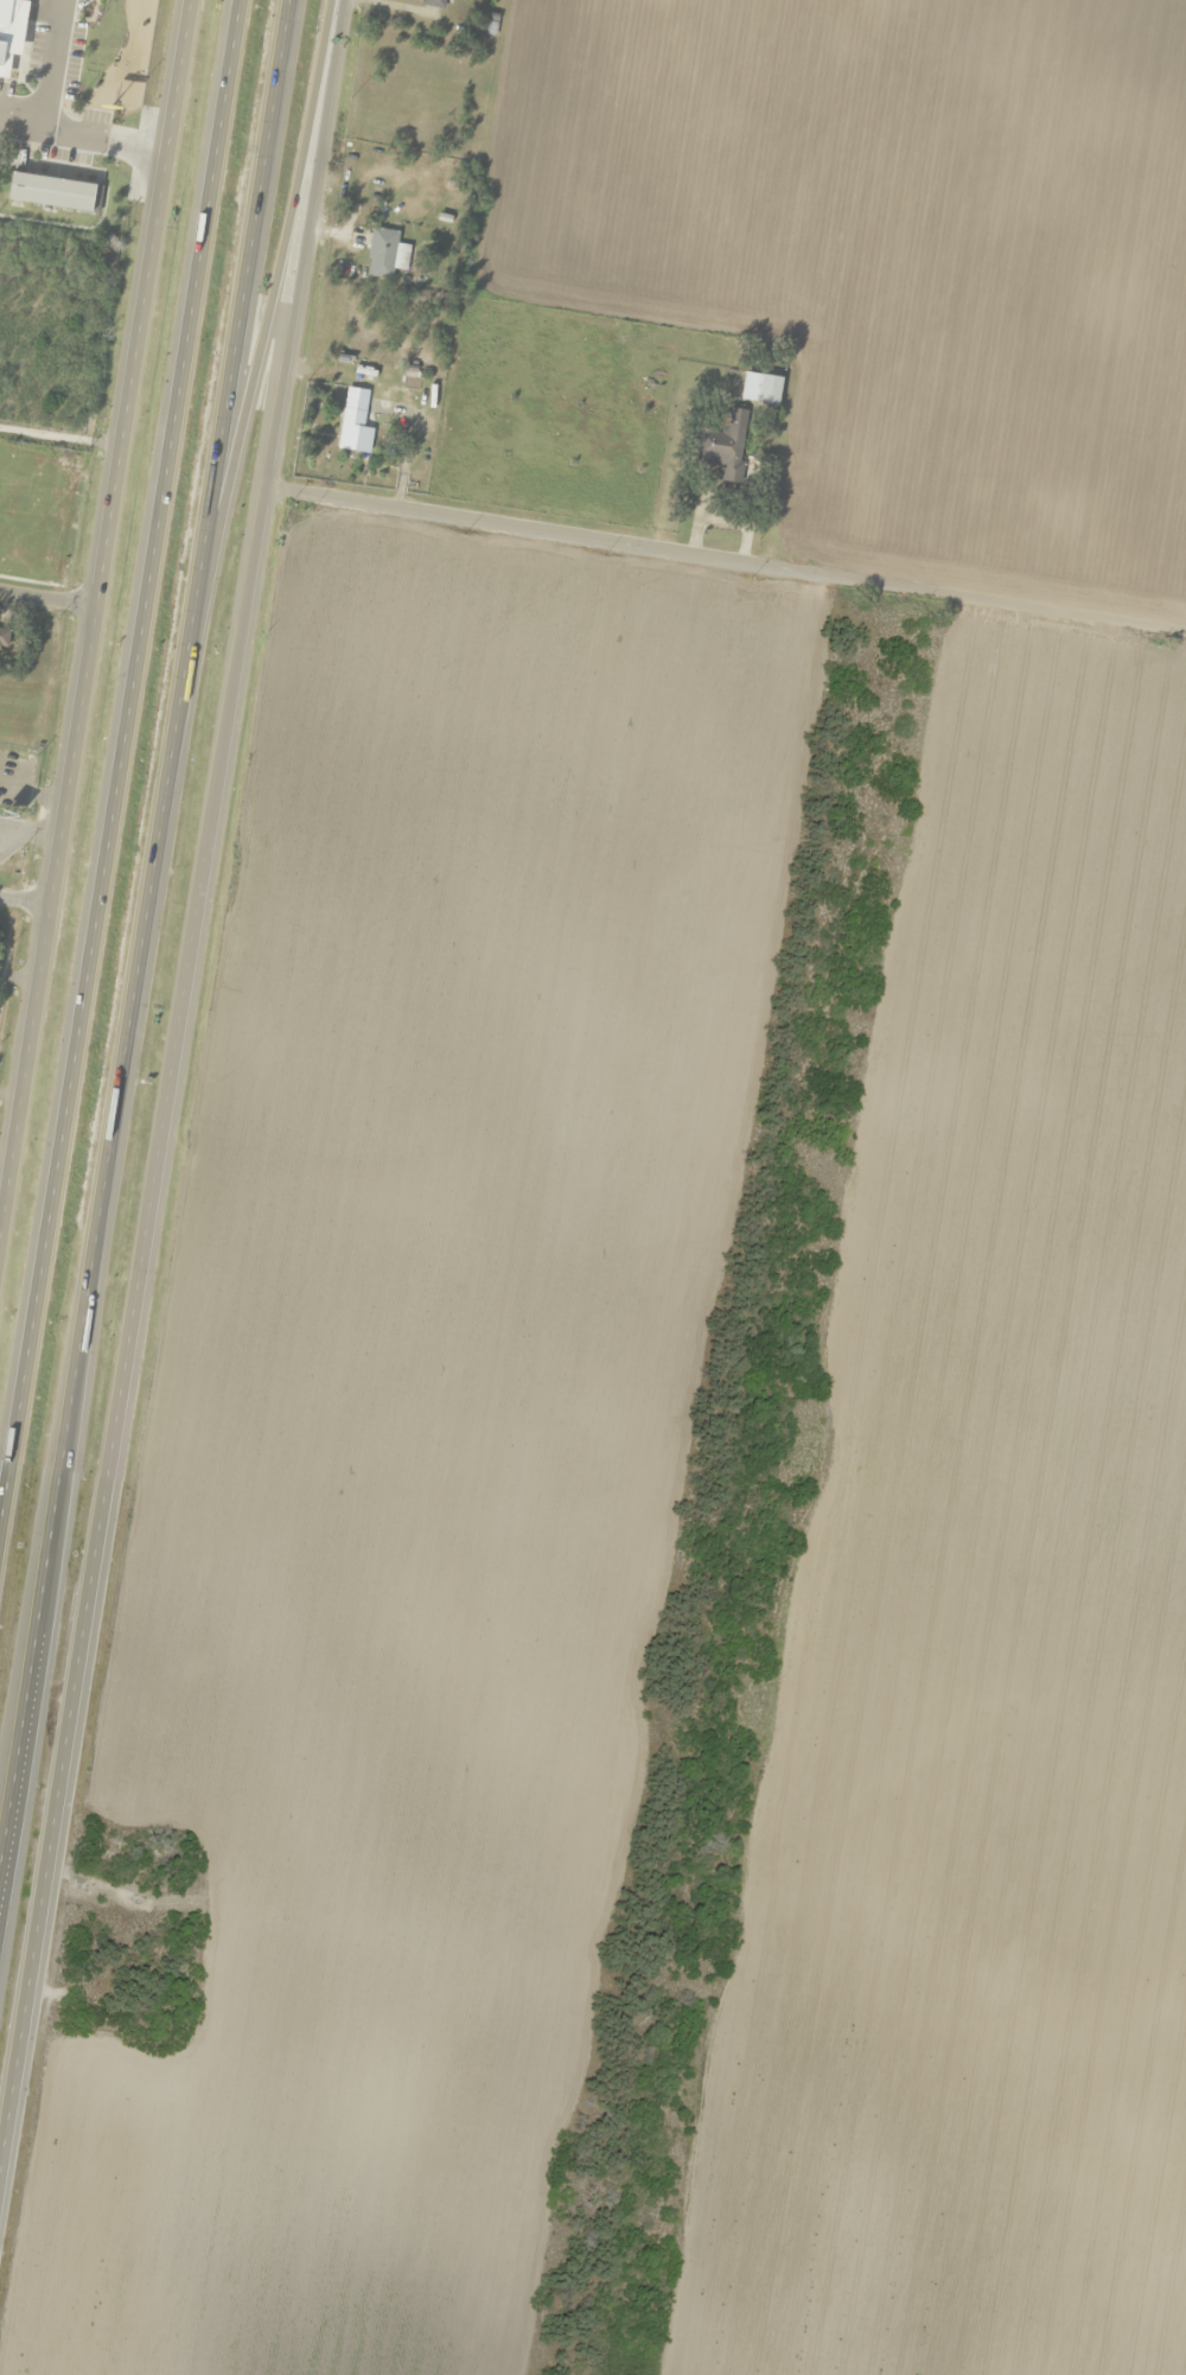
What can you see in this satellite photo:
building: (431, 4)
building: (12, 34)
building: (2, 87)
building: (53, 193)
building: (0, 199)
building: (384, 254)
building: (353, 424)
building: (722, 446)
road: (111, 515)
road: (727, 562)
road: (49, 599)
road: (246, 635)
building: (4, 639)
road: (116, 749)
road: (26, 899)
road: (142, 940)
road: (17, 1115)
road: (72, 1728)

